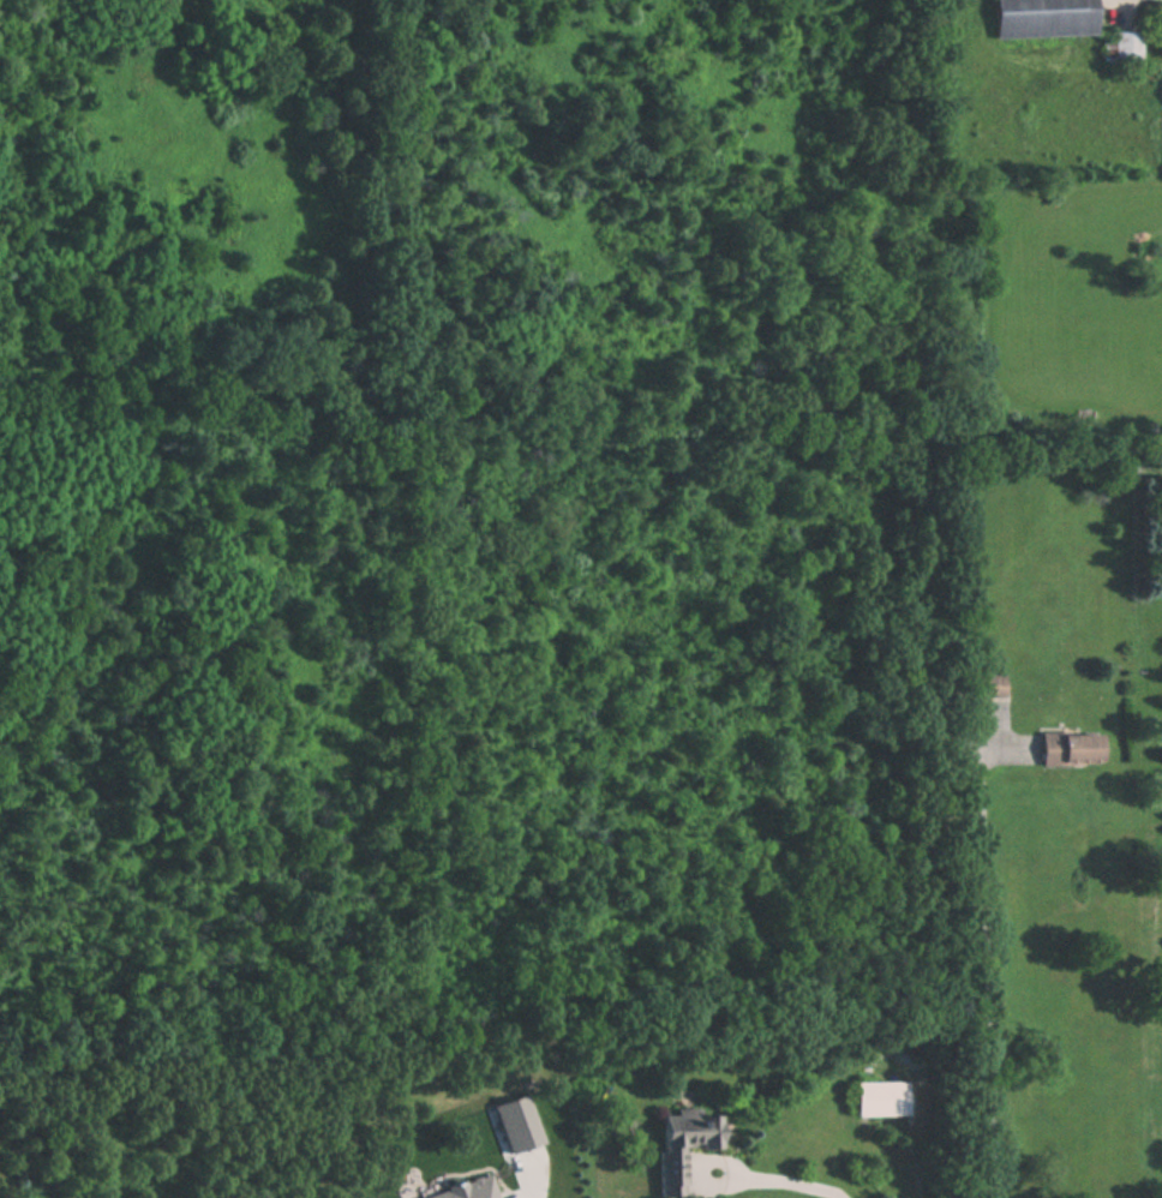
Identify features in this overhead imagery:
building: (1042, 18)
building: (1124, 48)
building: (1070, 749)
road: (986, 966)
building: (880, 1098)
building: (681, 1146)
road: (792, 1185)

